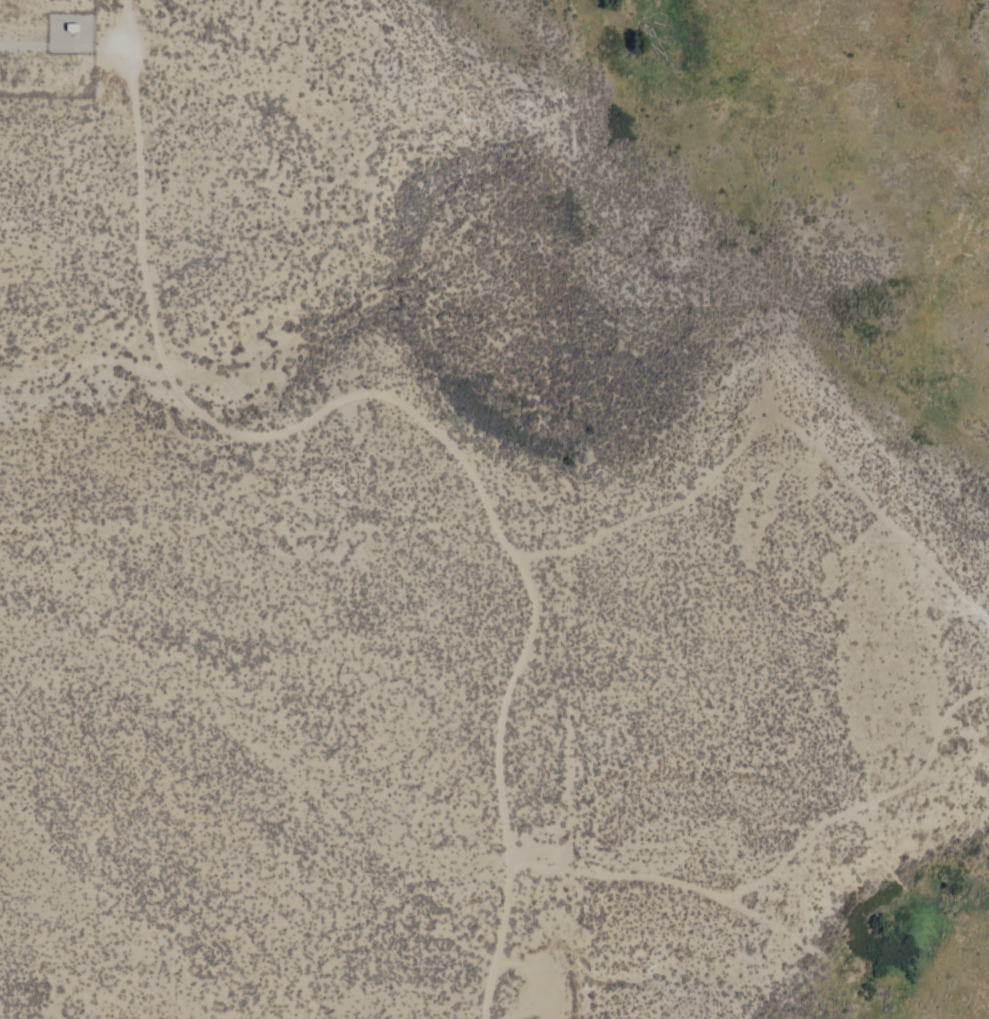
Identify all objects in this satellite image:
road: (406, 410)
road: (768, 418)
road: (780, 873)

